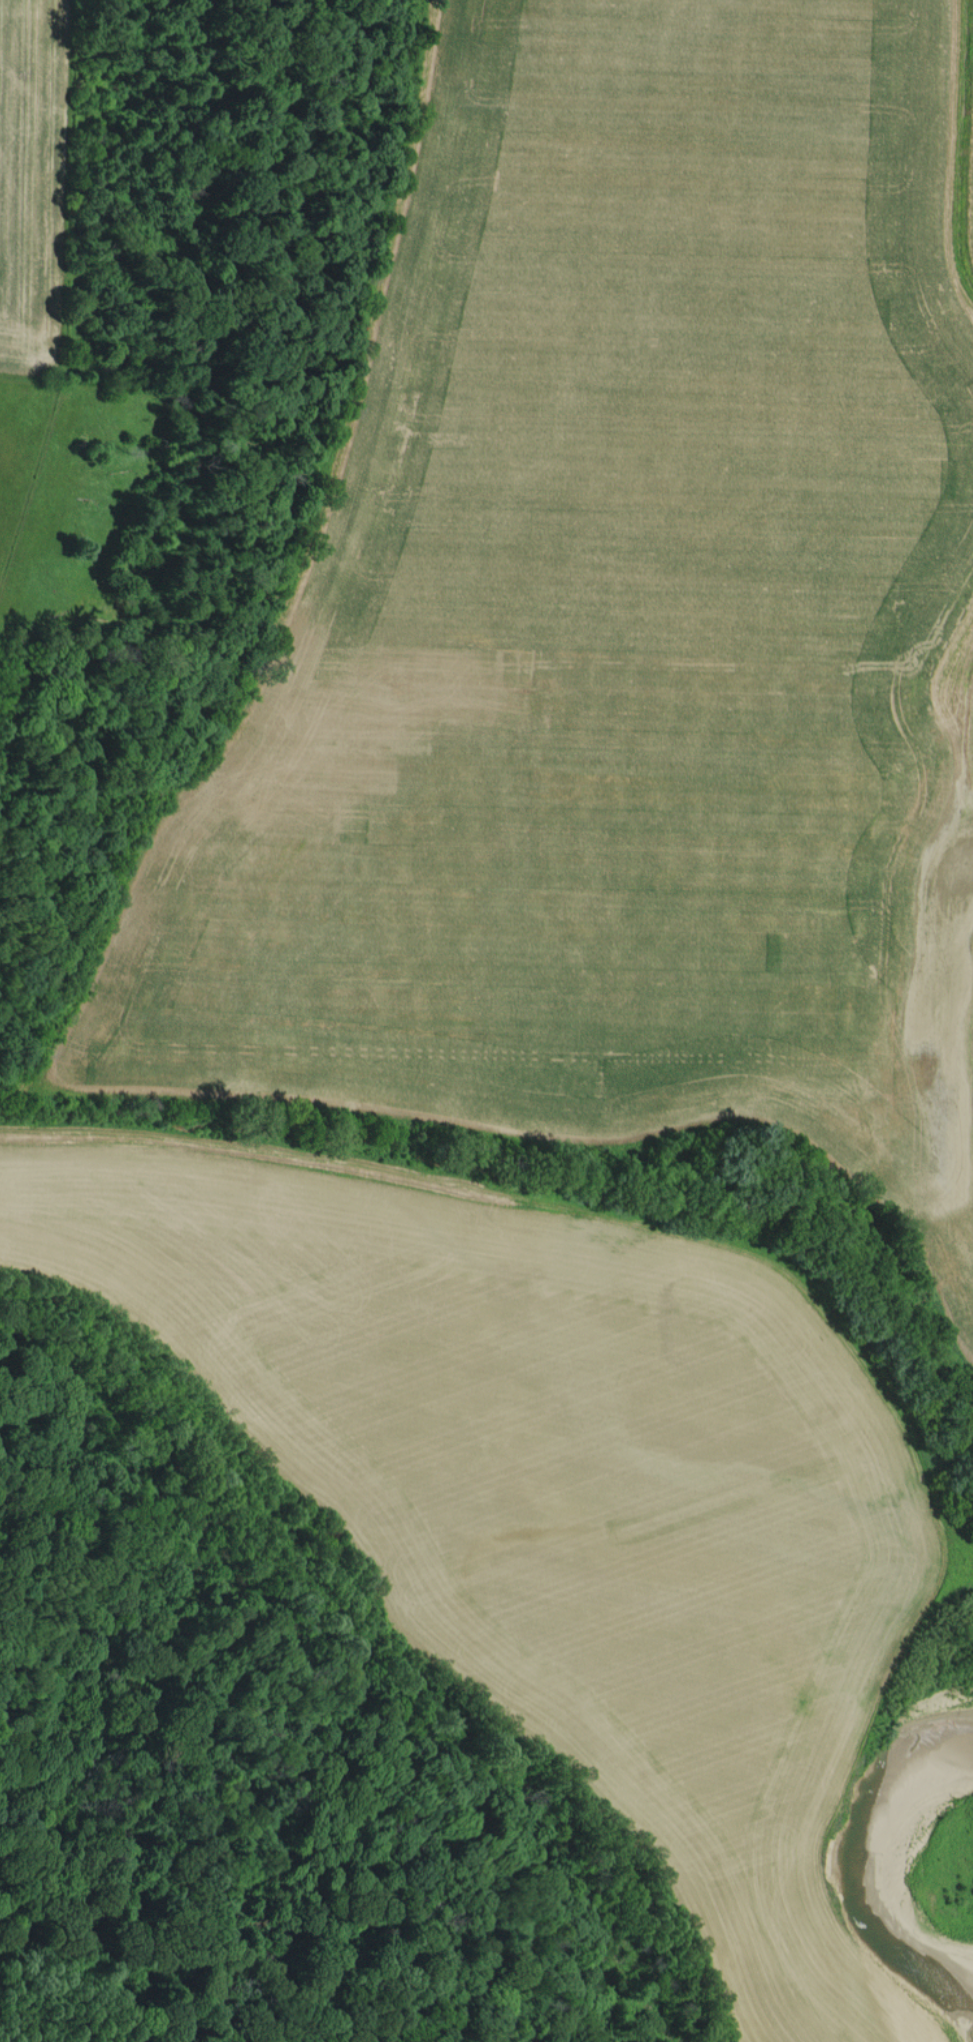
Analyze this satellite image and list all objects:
road: (563, 1217)
river: (967, 1739)

